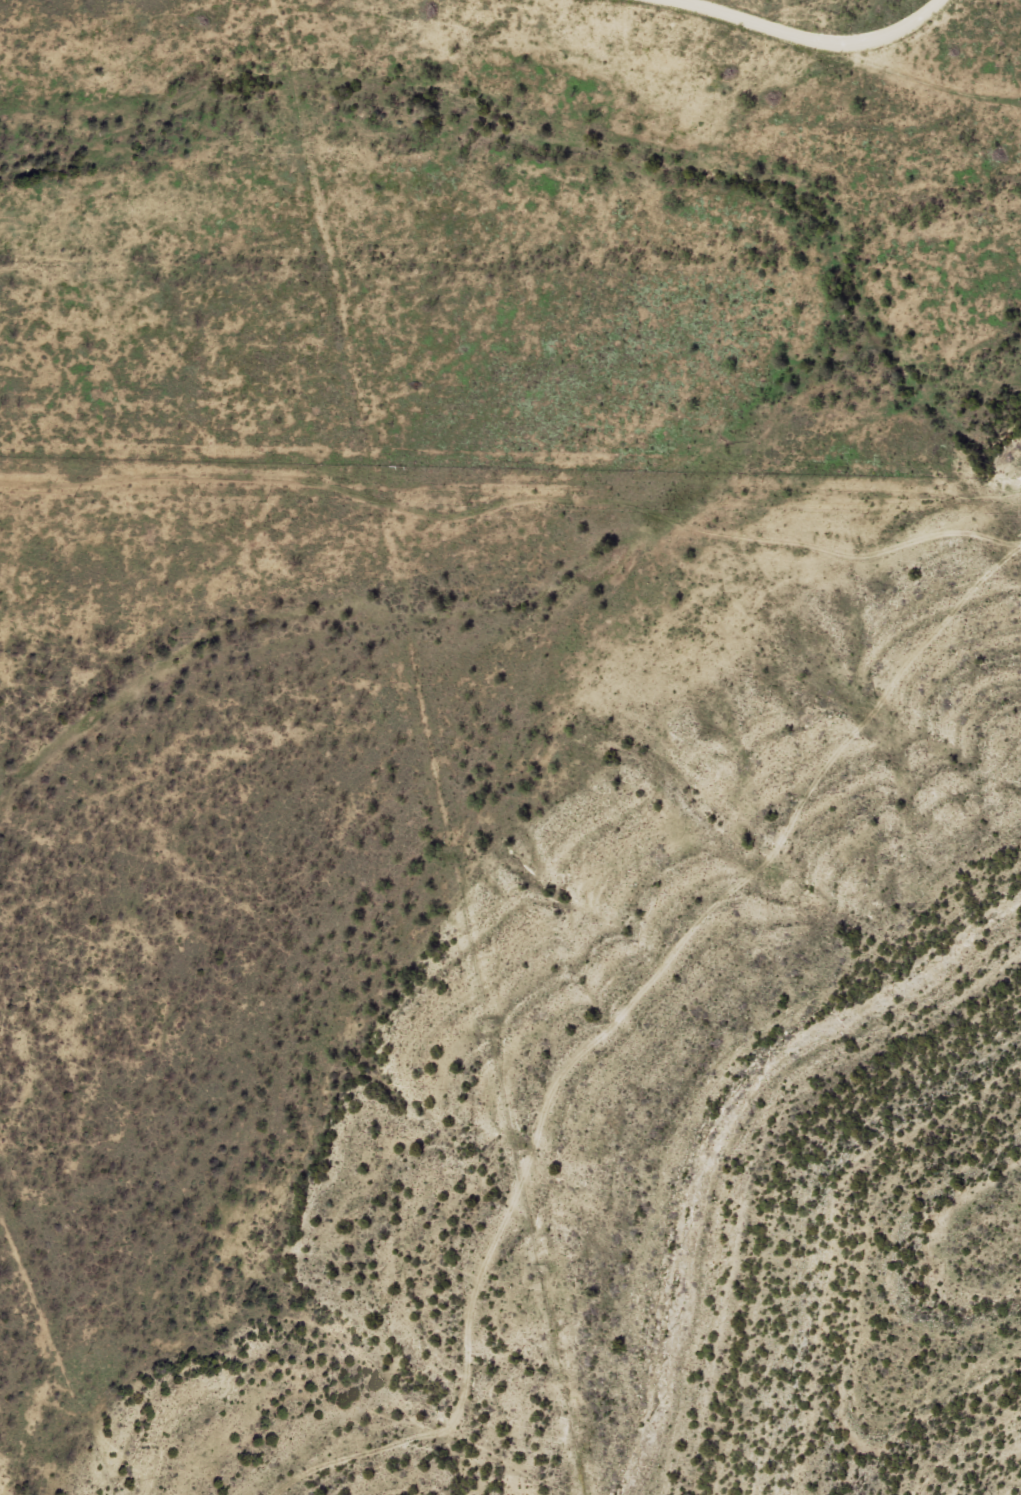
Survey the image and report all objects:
road: (140, 2)
road: (537, 3)
road: (903, 21)
road: (811, 41)

